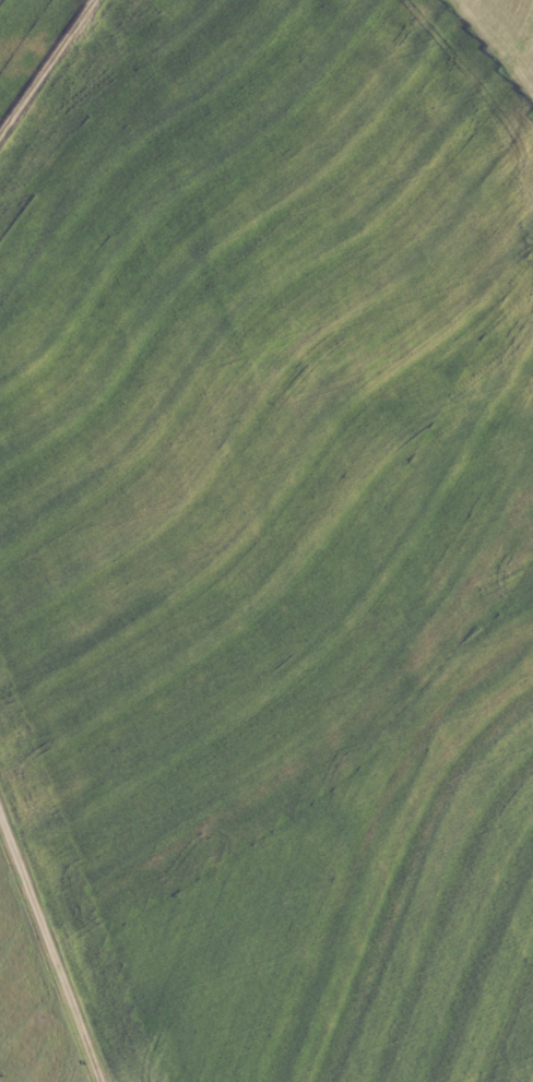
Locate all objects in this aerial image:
road: (56, 75)
road: (56, 928)

